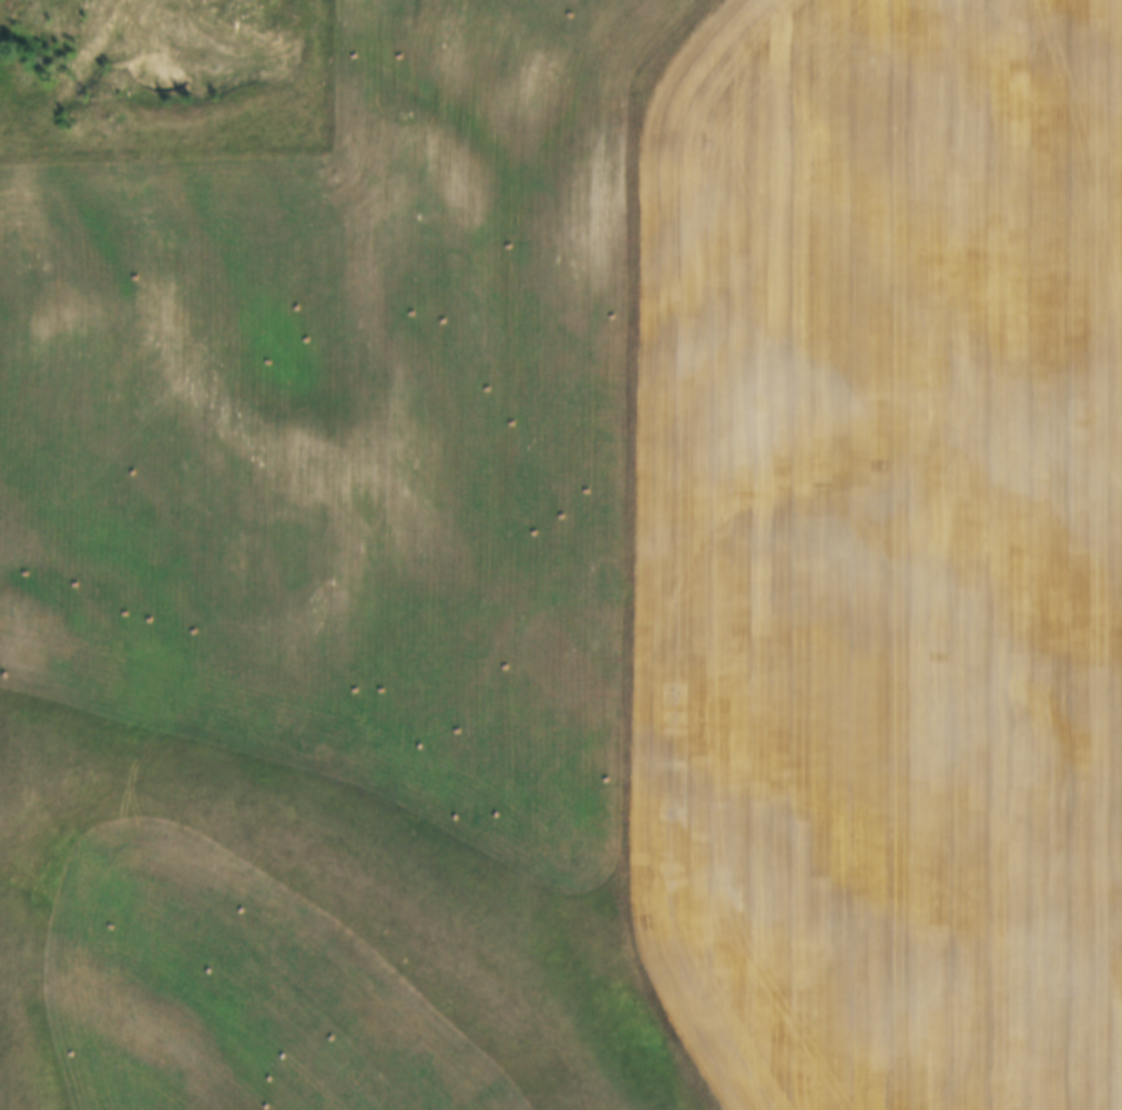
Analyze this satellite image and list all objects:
quarry: (160, 61)

